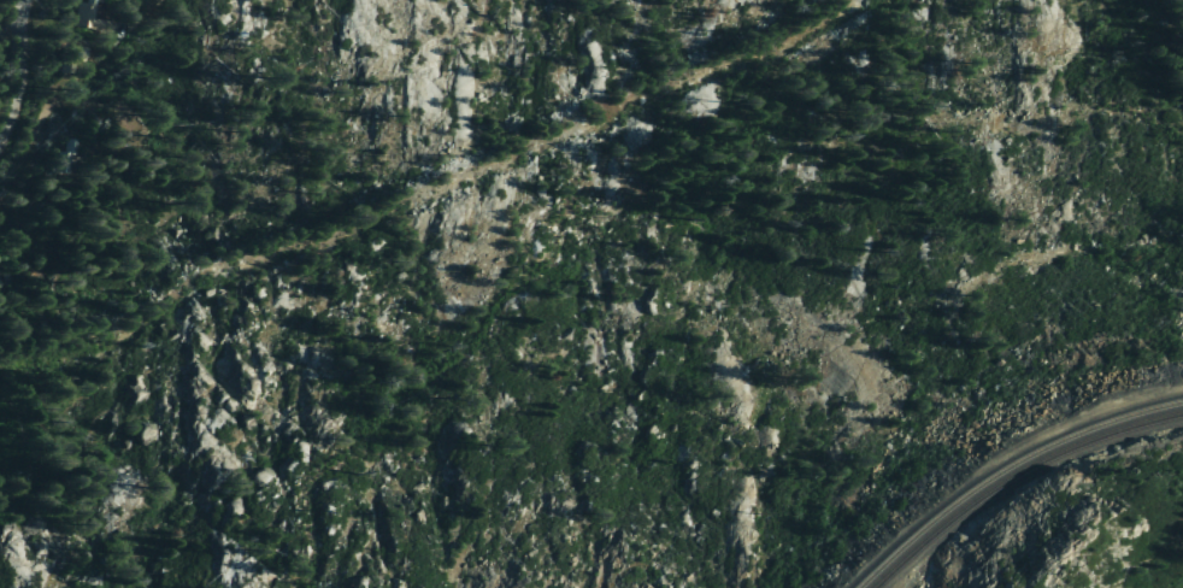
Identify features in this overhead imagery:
building: (86, 19)
road: (8, 30)
road: (117, 42)
building: (69, 57)
road: (94, 63)
road: (20, 73)
road: (42, 118)
building: (60, 159)
road: (23, 174)
railway: (1006, 470)
railway: (1018, 478)
railway: (973, 587)

